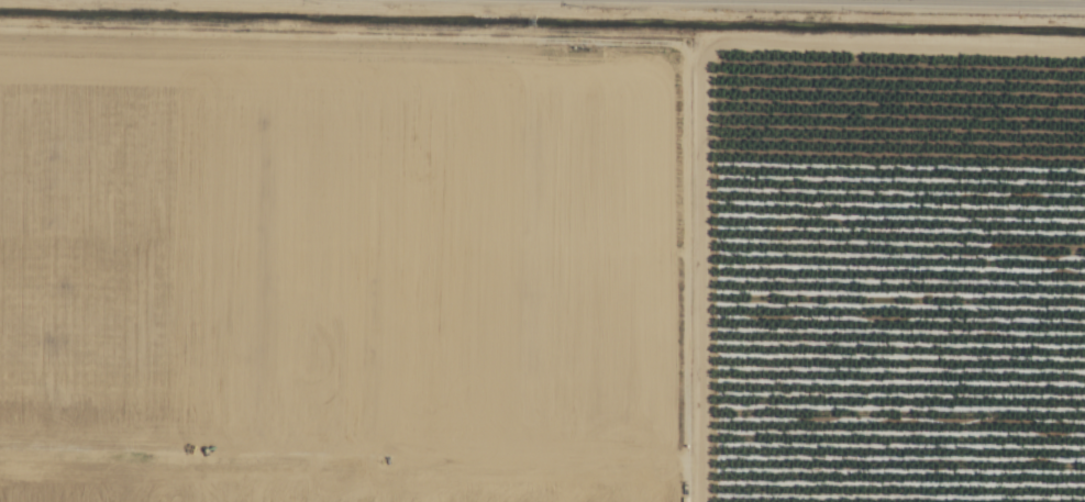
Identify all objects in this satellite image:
road: (886, 2)

